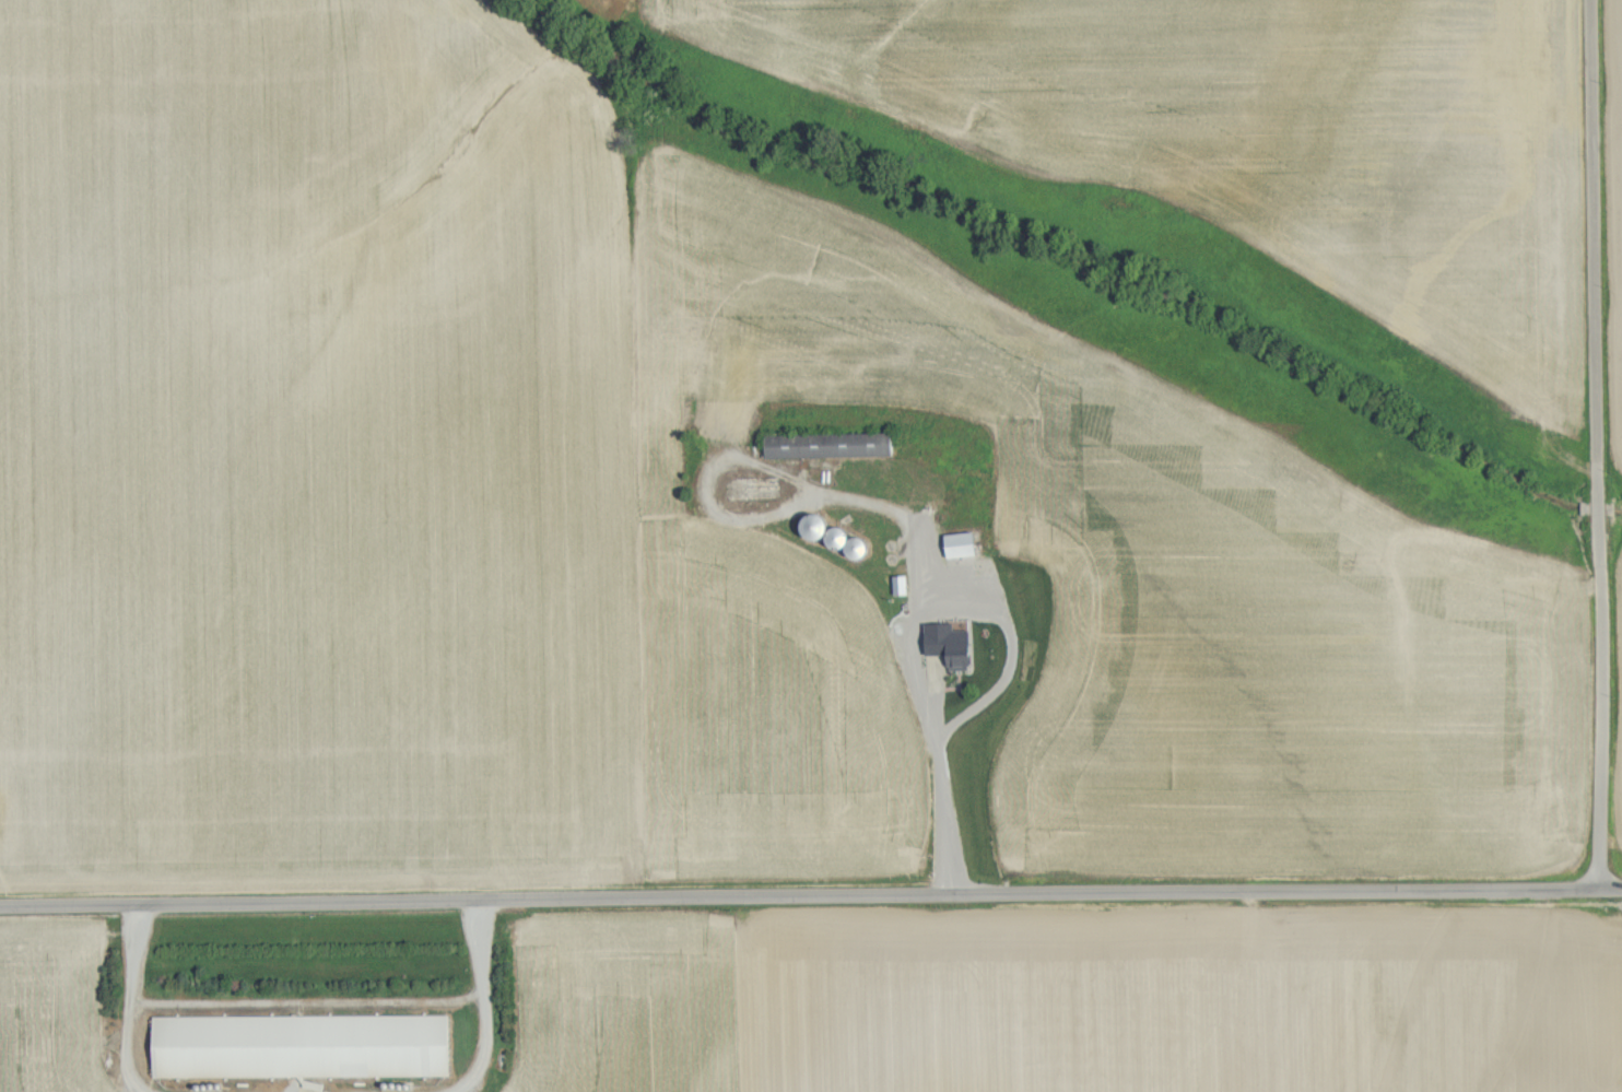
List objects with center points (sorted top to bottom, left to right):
road: (1596, 445)
building: (967, 542)
road: (932, 643)
road: (943, 821)
road: (810, 902)
building: (307, 1044)

